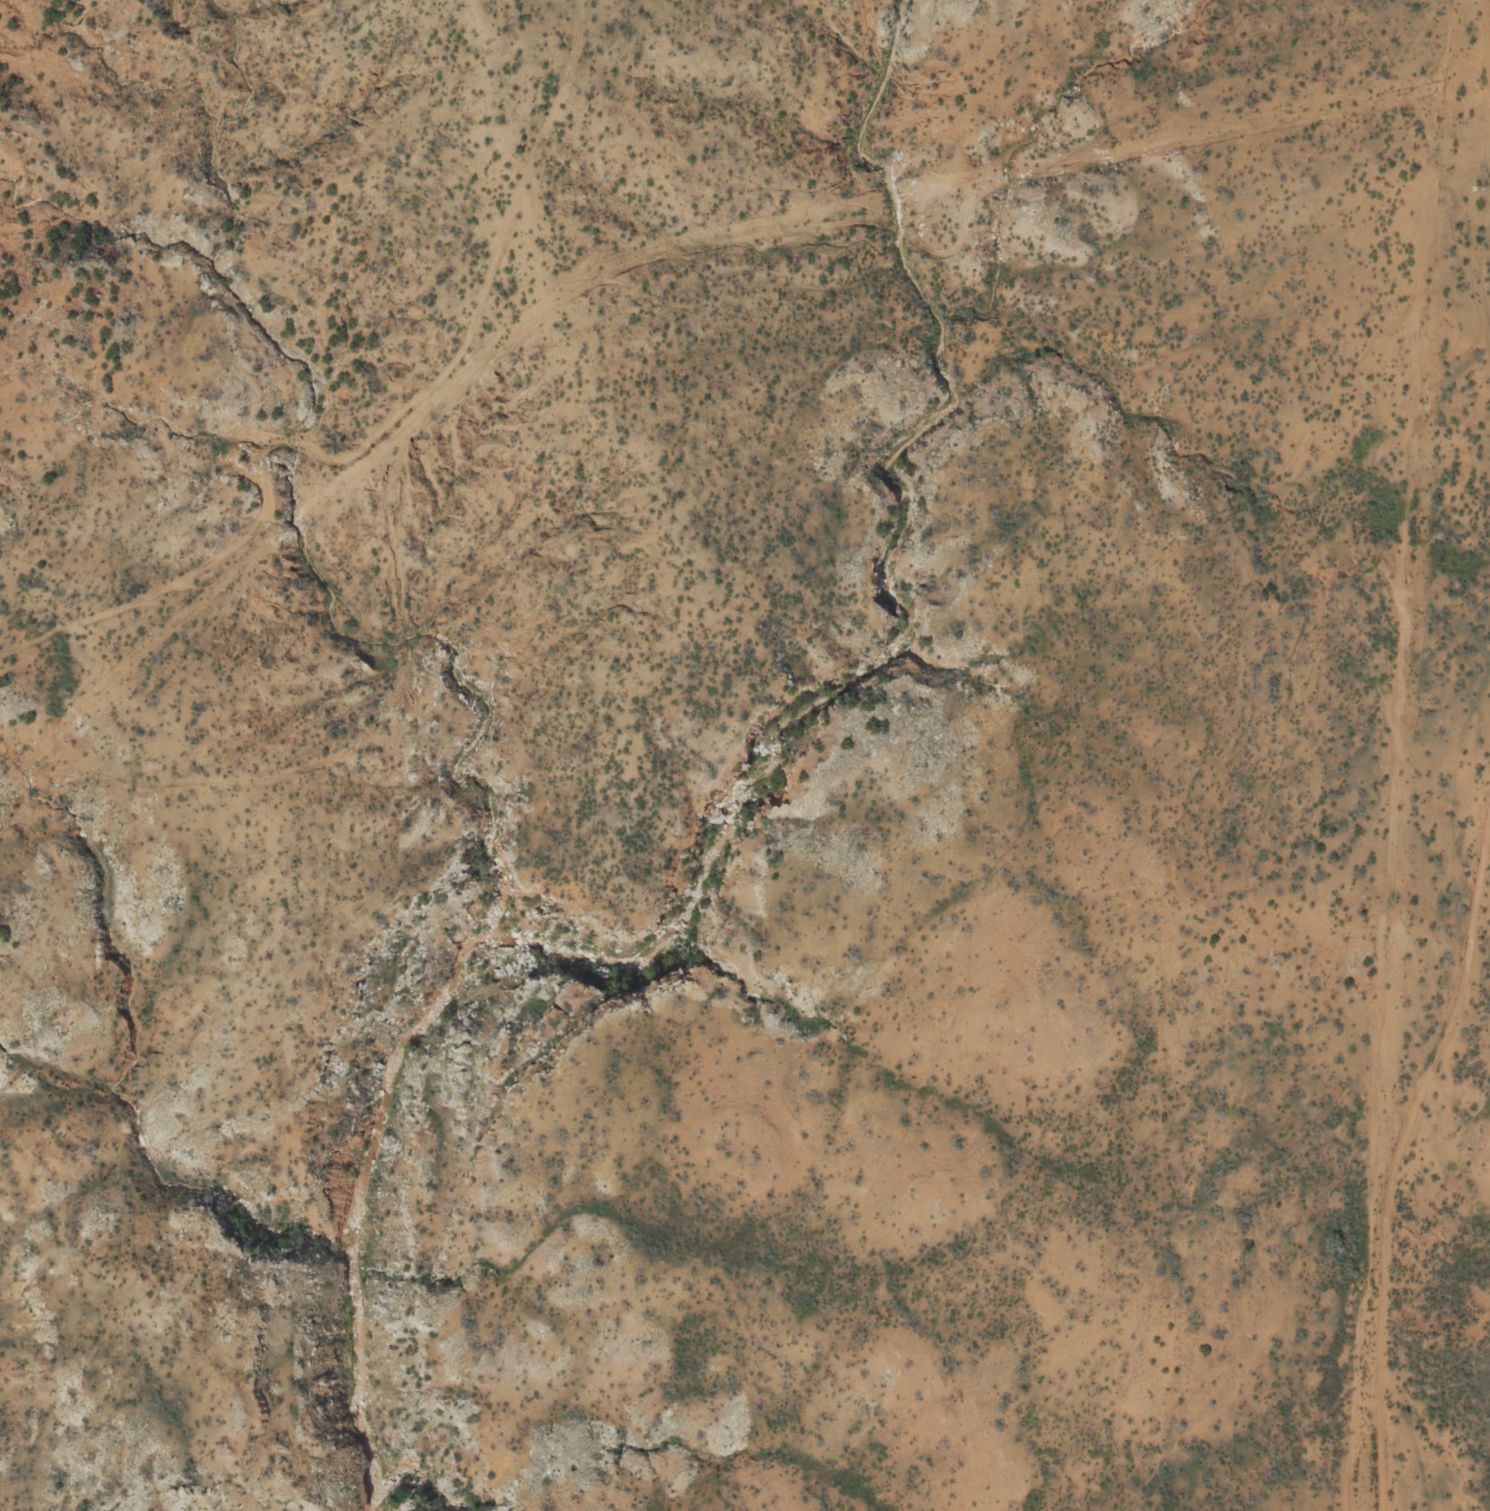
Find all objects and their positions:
road: (1483, 111)
road: (1424, 1185)

